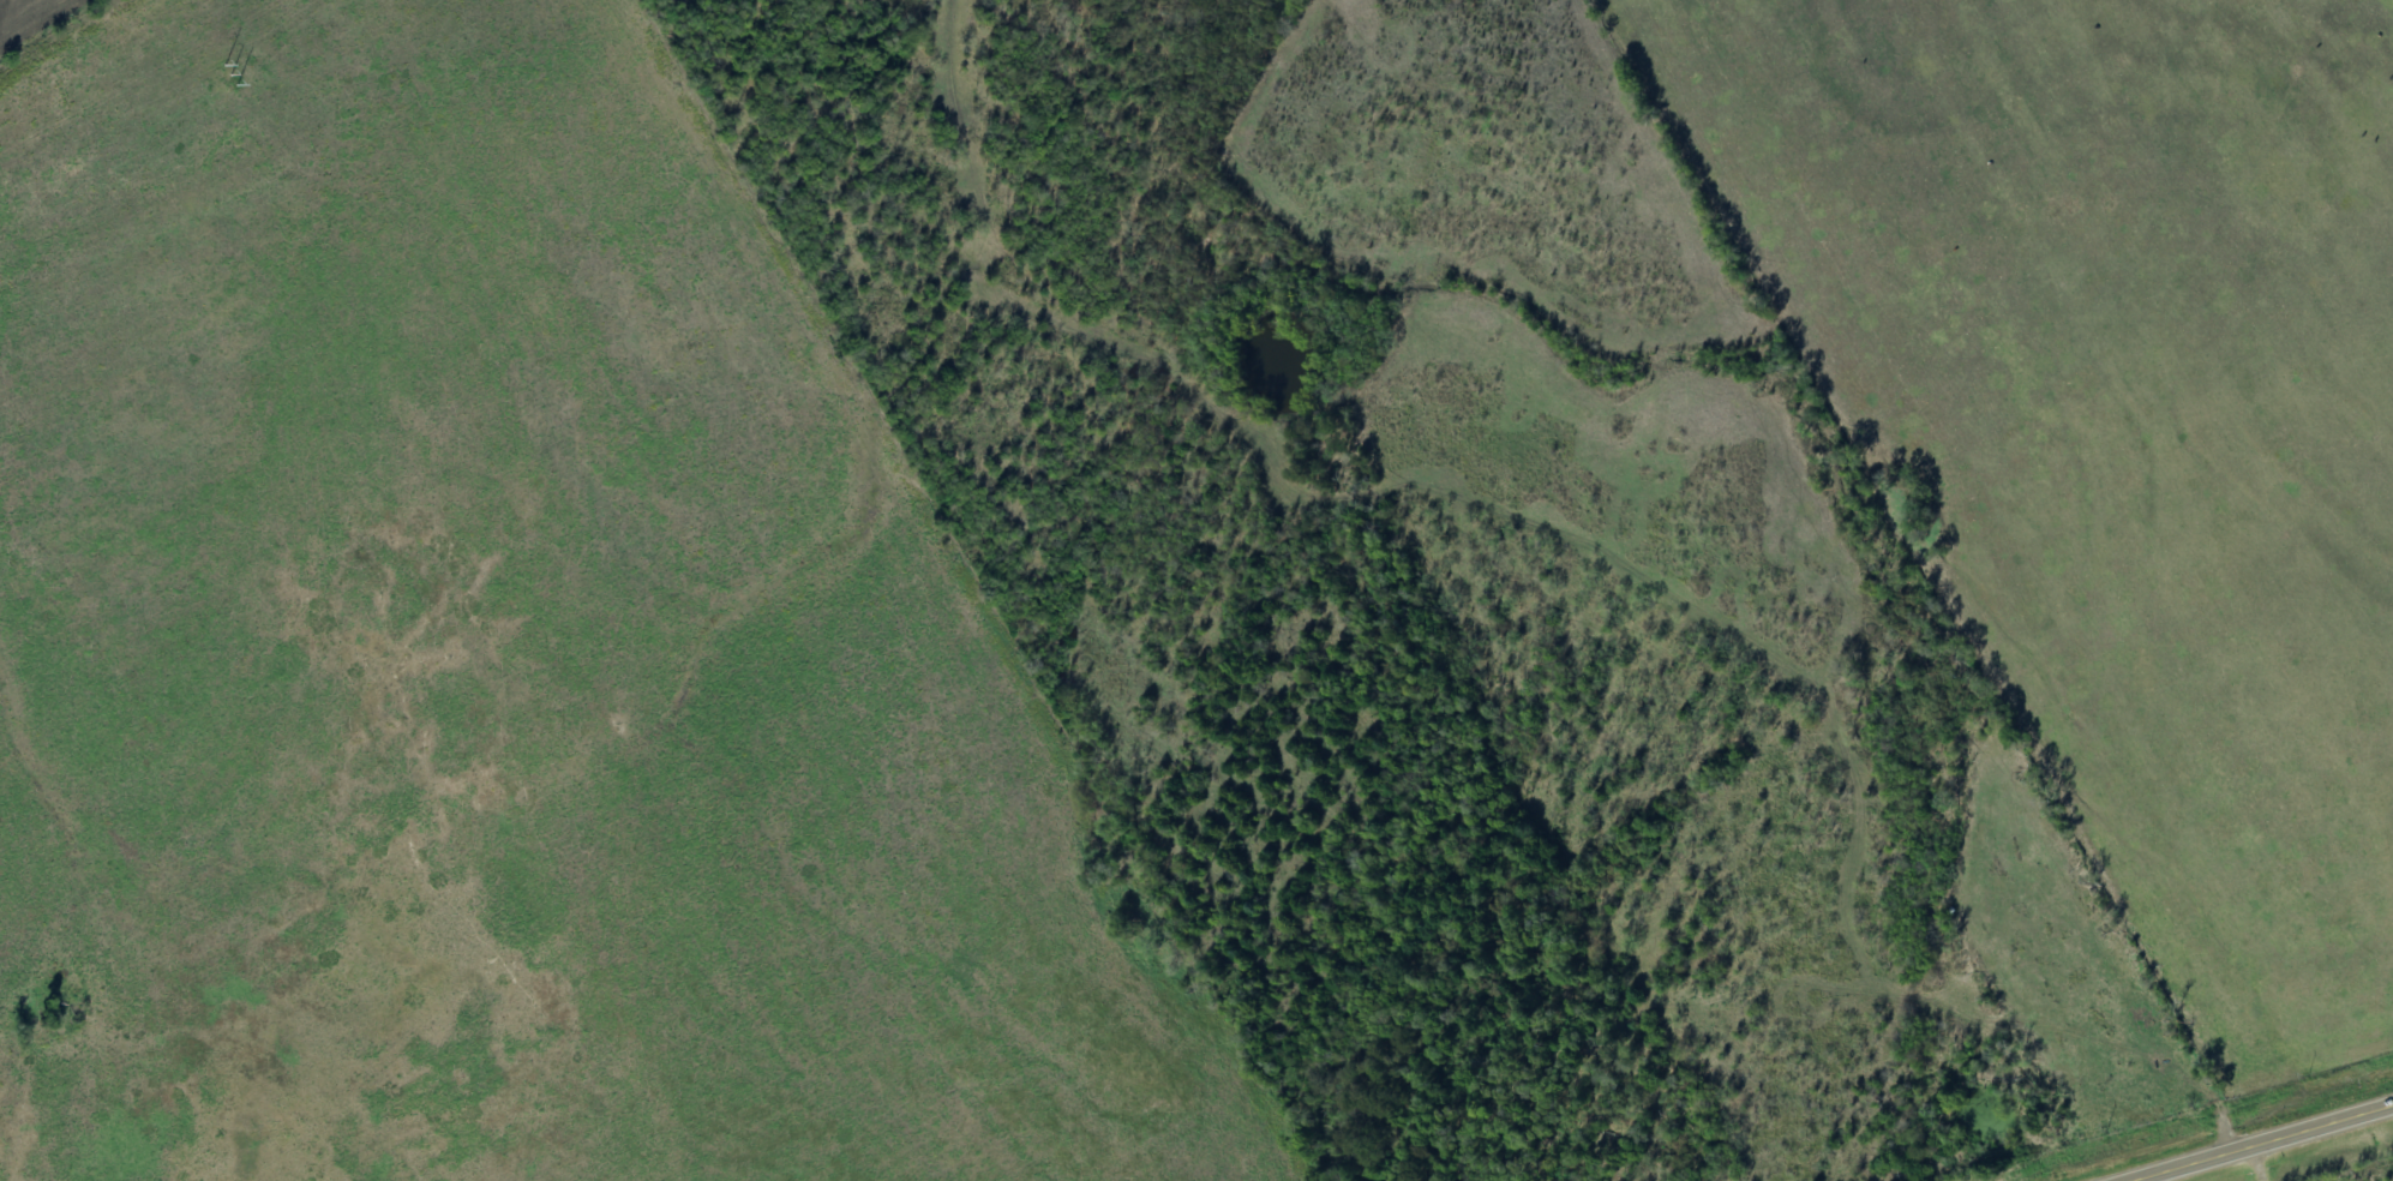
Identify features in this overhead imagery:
power tower: (233, 70)
road: (2253, 1138)

